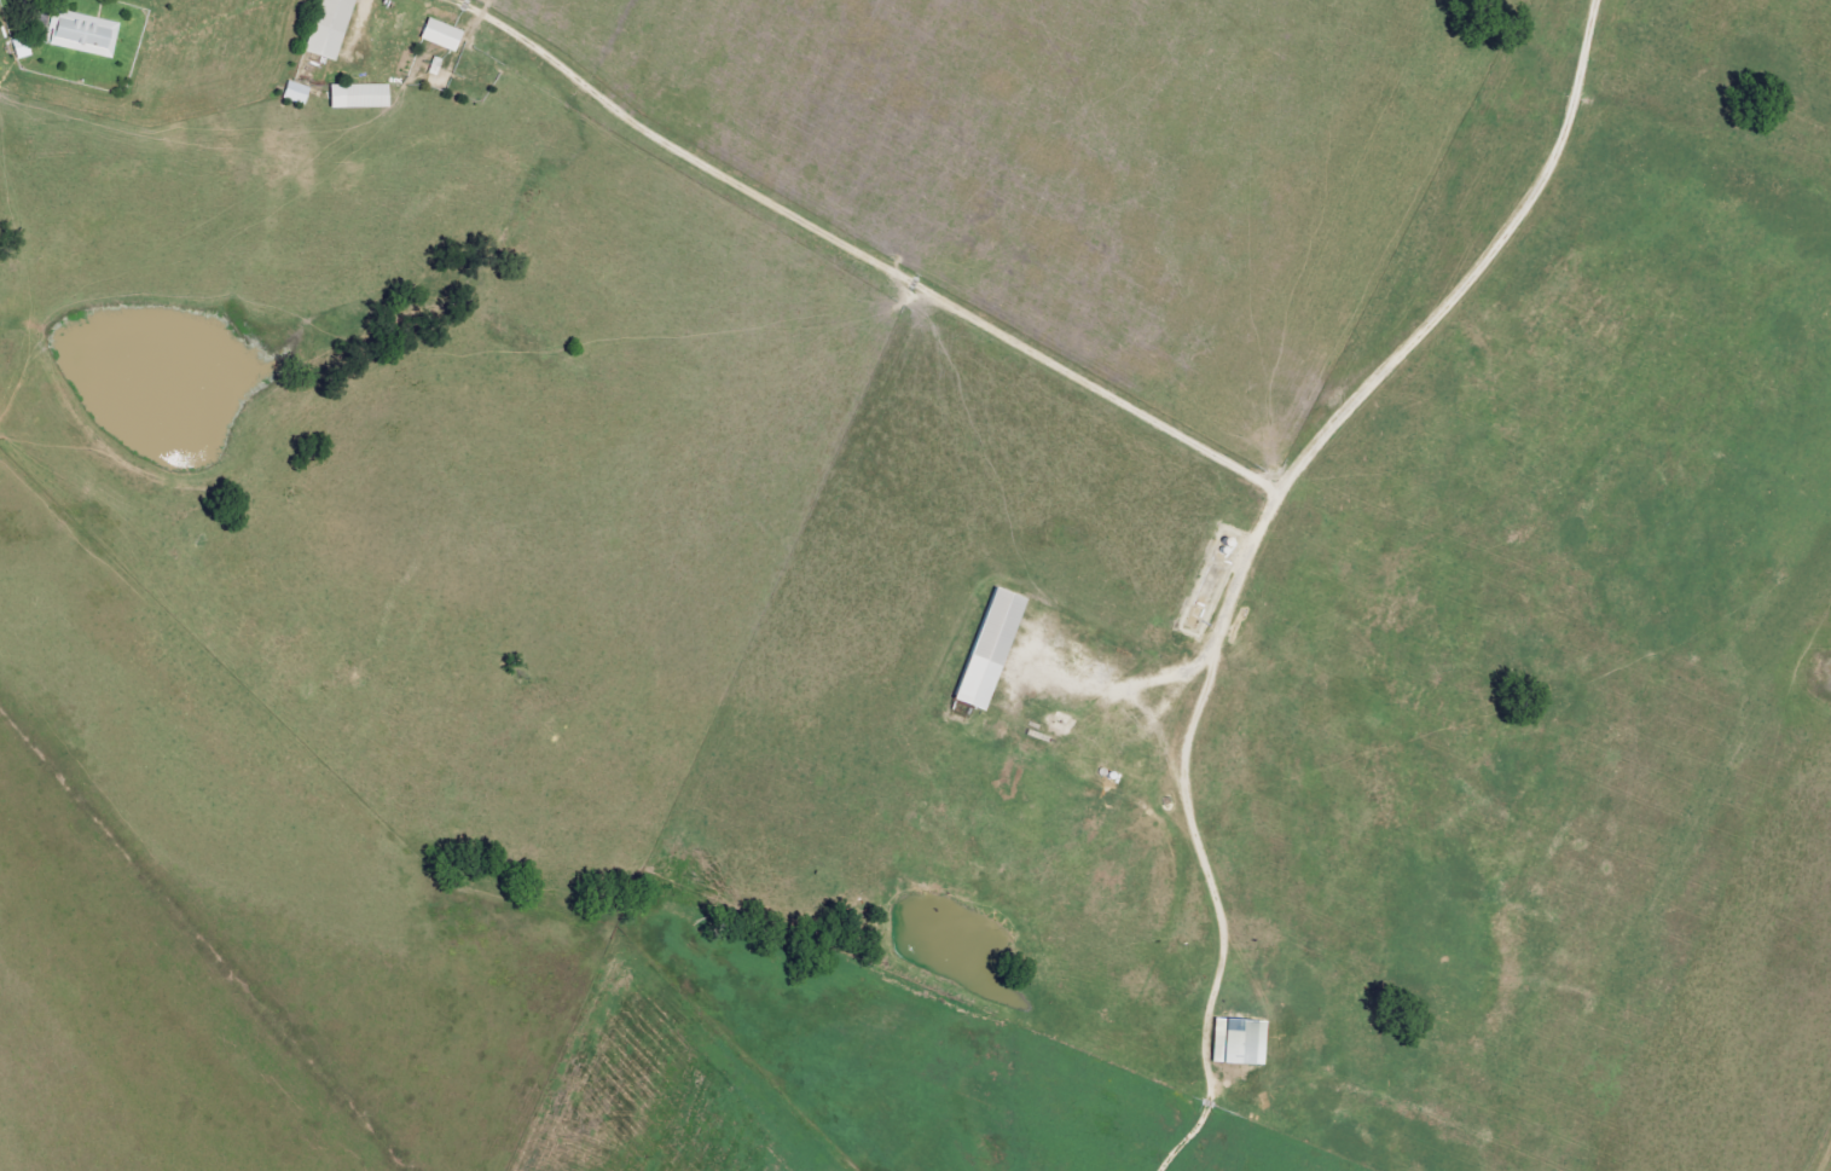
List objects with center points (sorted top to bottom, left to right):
building: (82, 34)
building: (440, 35)
building: (294, 93)
building: (358, 97)
road: (858, 254)
road: (1261, 546)
building: (989, 648)
building: (1238, 1042)

